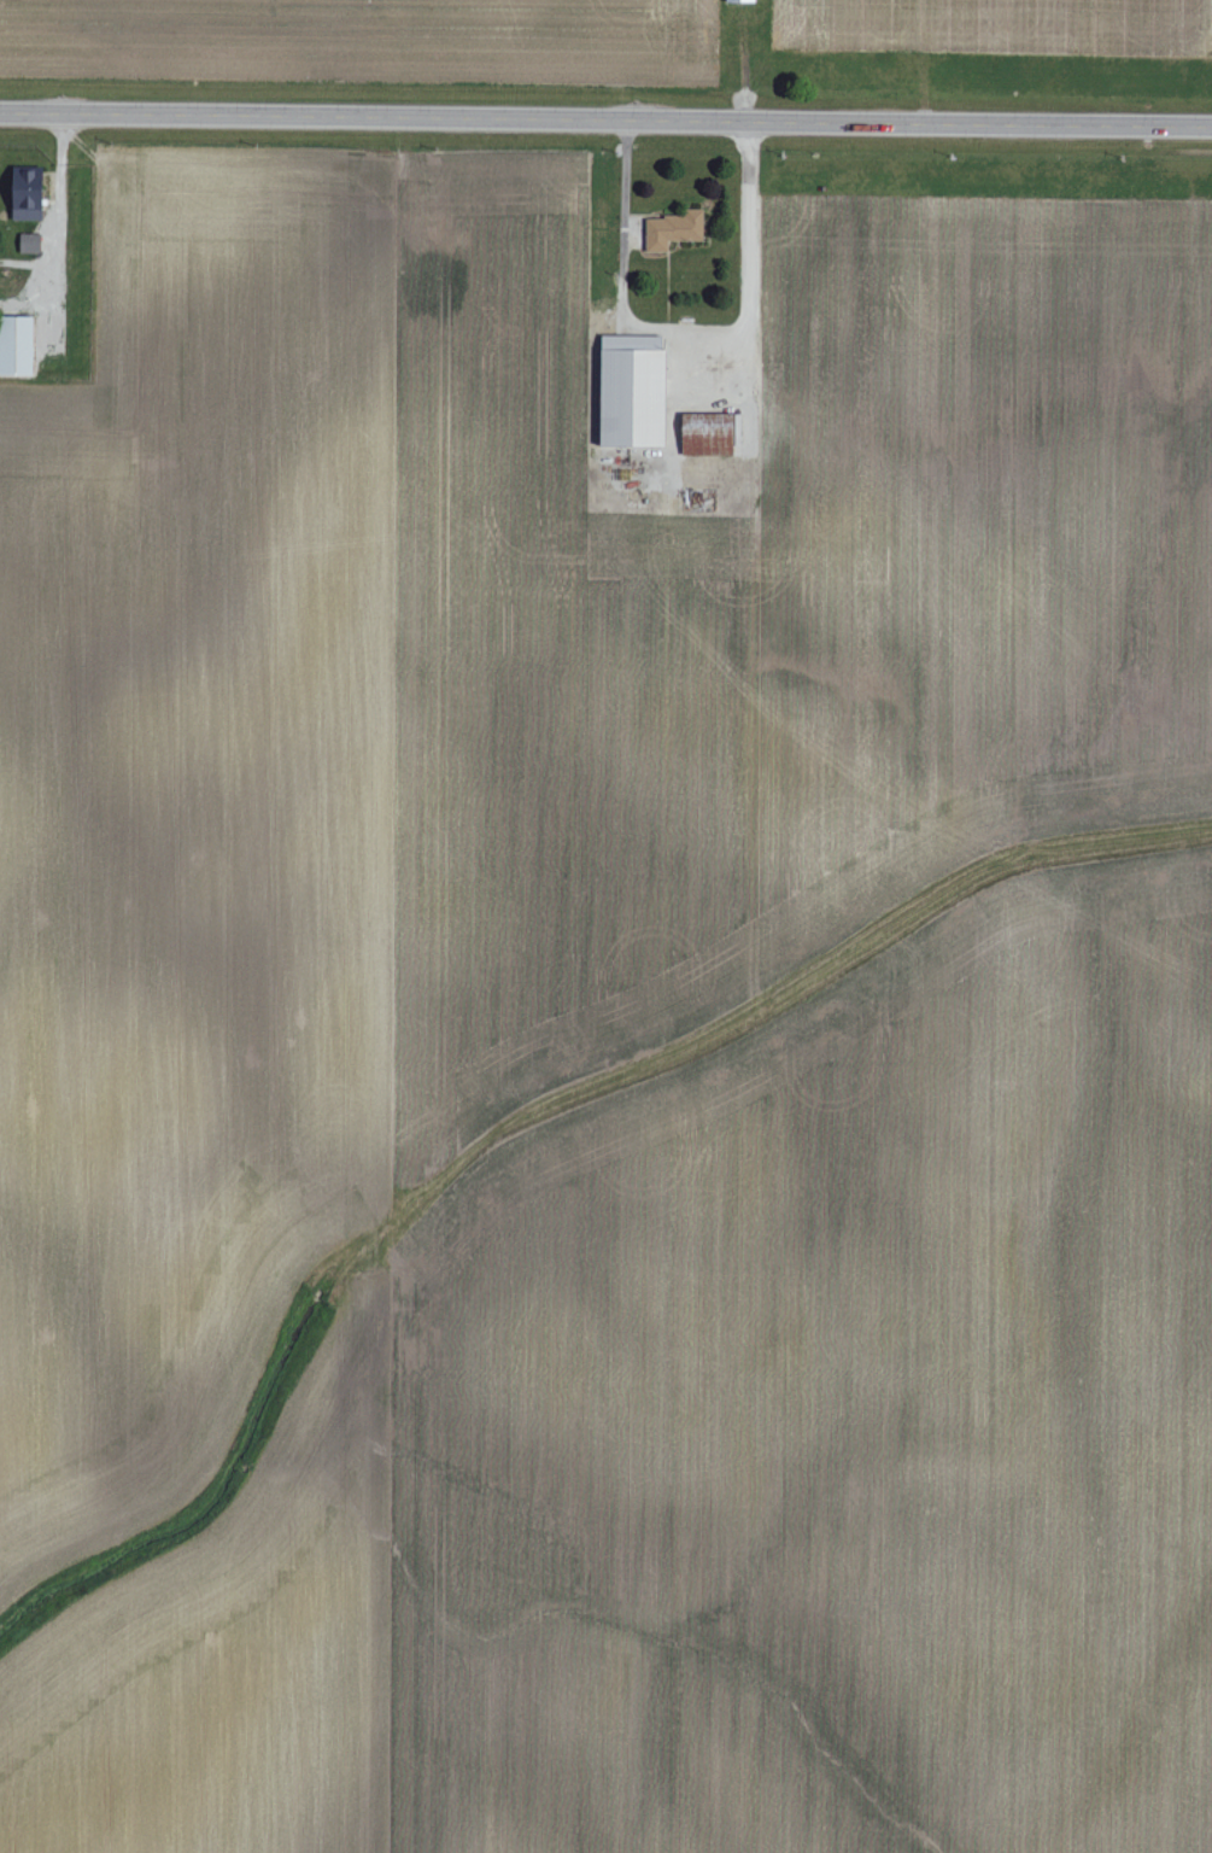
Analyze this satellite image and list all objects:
building: (737, 1)
road: (605, 121)
building: (19, 191)
road: (57, 211)
building: (669, 229)
building: (27, 244)
road: (690, 331)
building: (13, 346)
building: (626, 392)
building: (705, 434)

